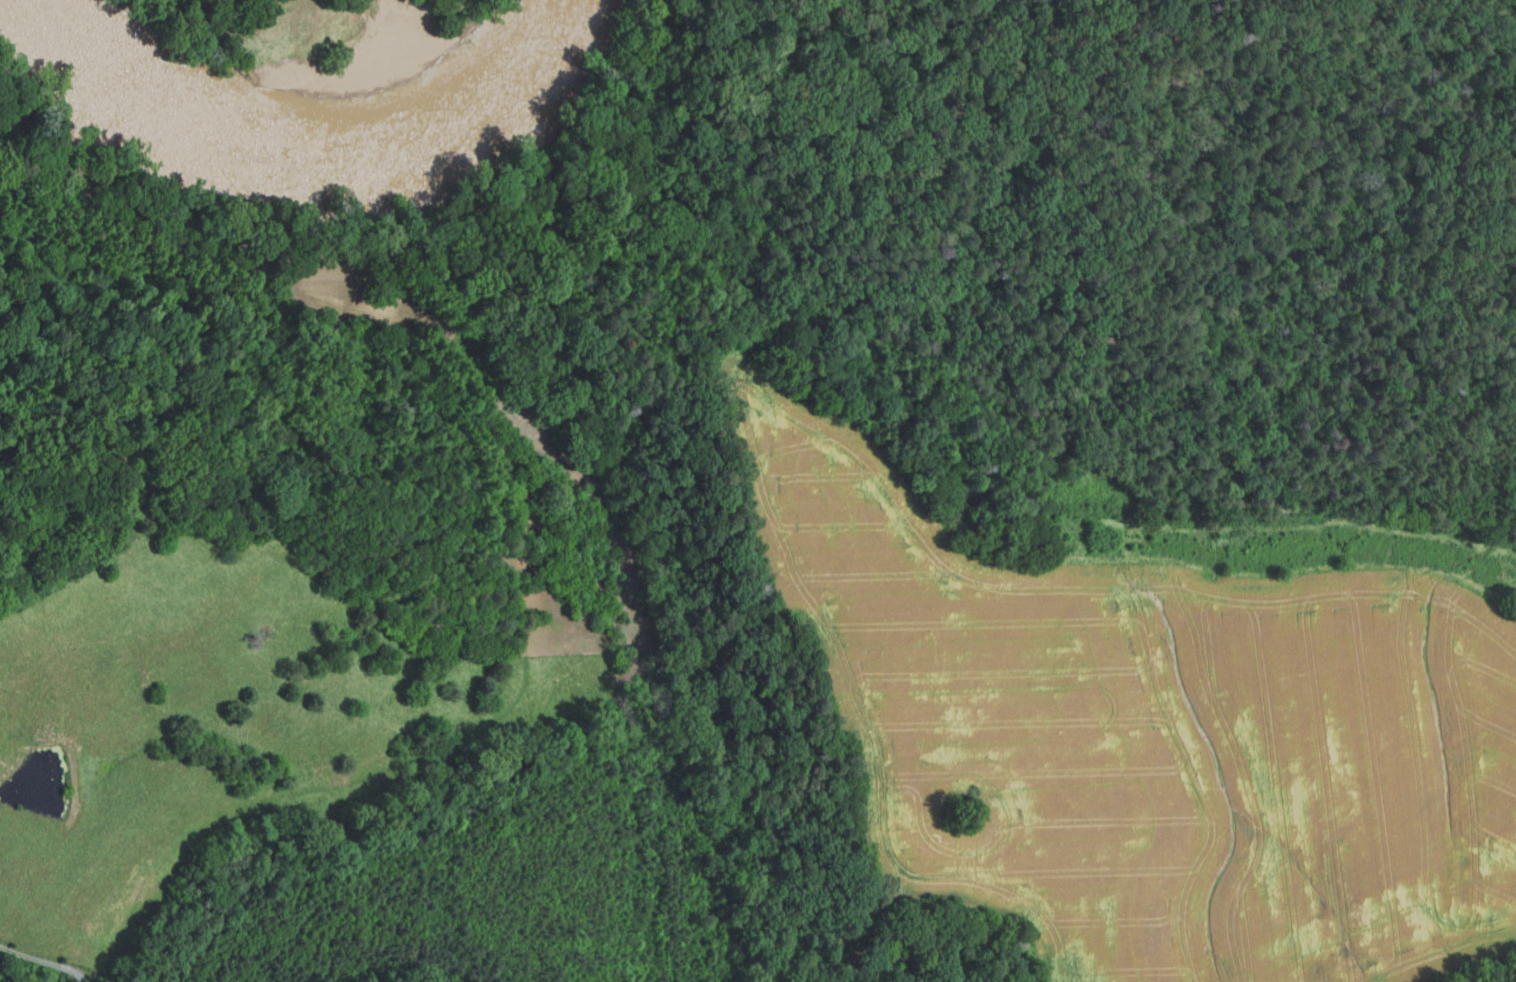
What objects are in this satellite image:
river: (307, 151)
building: (20, 544)
road: (44, 961)

